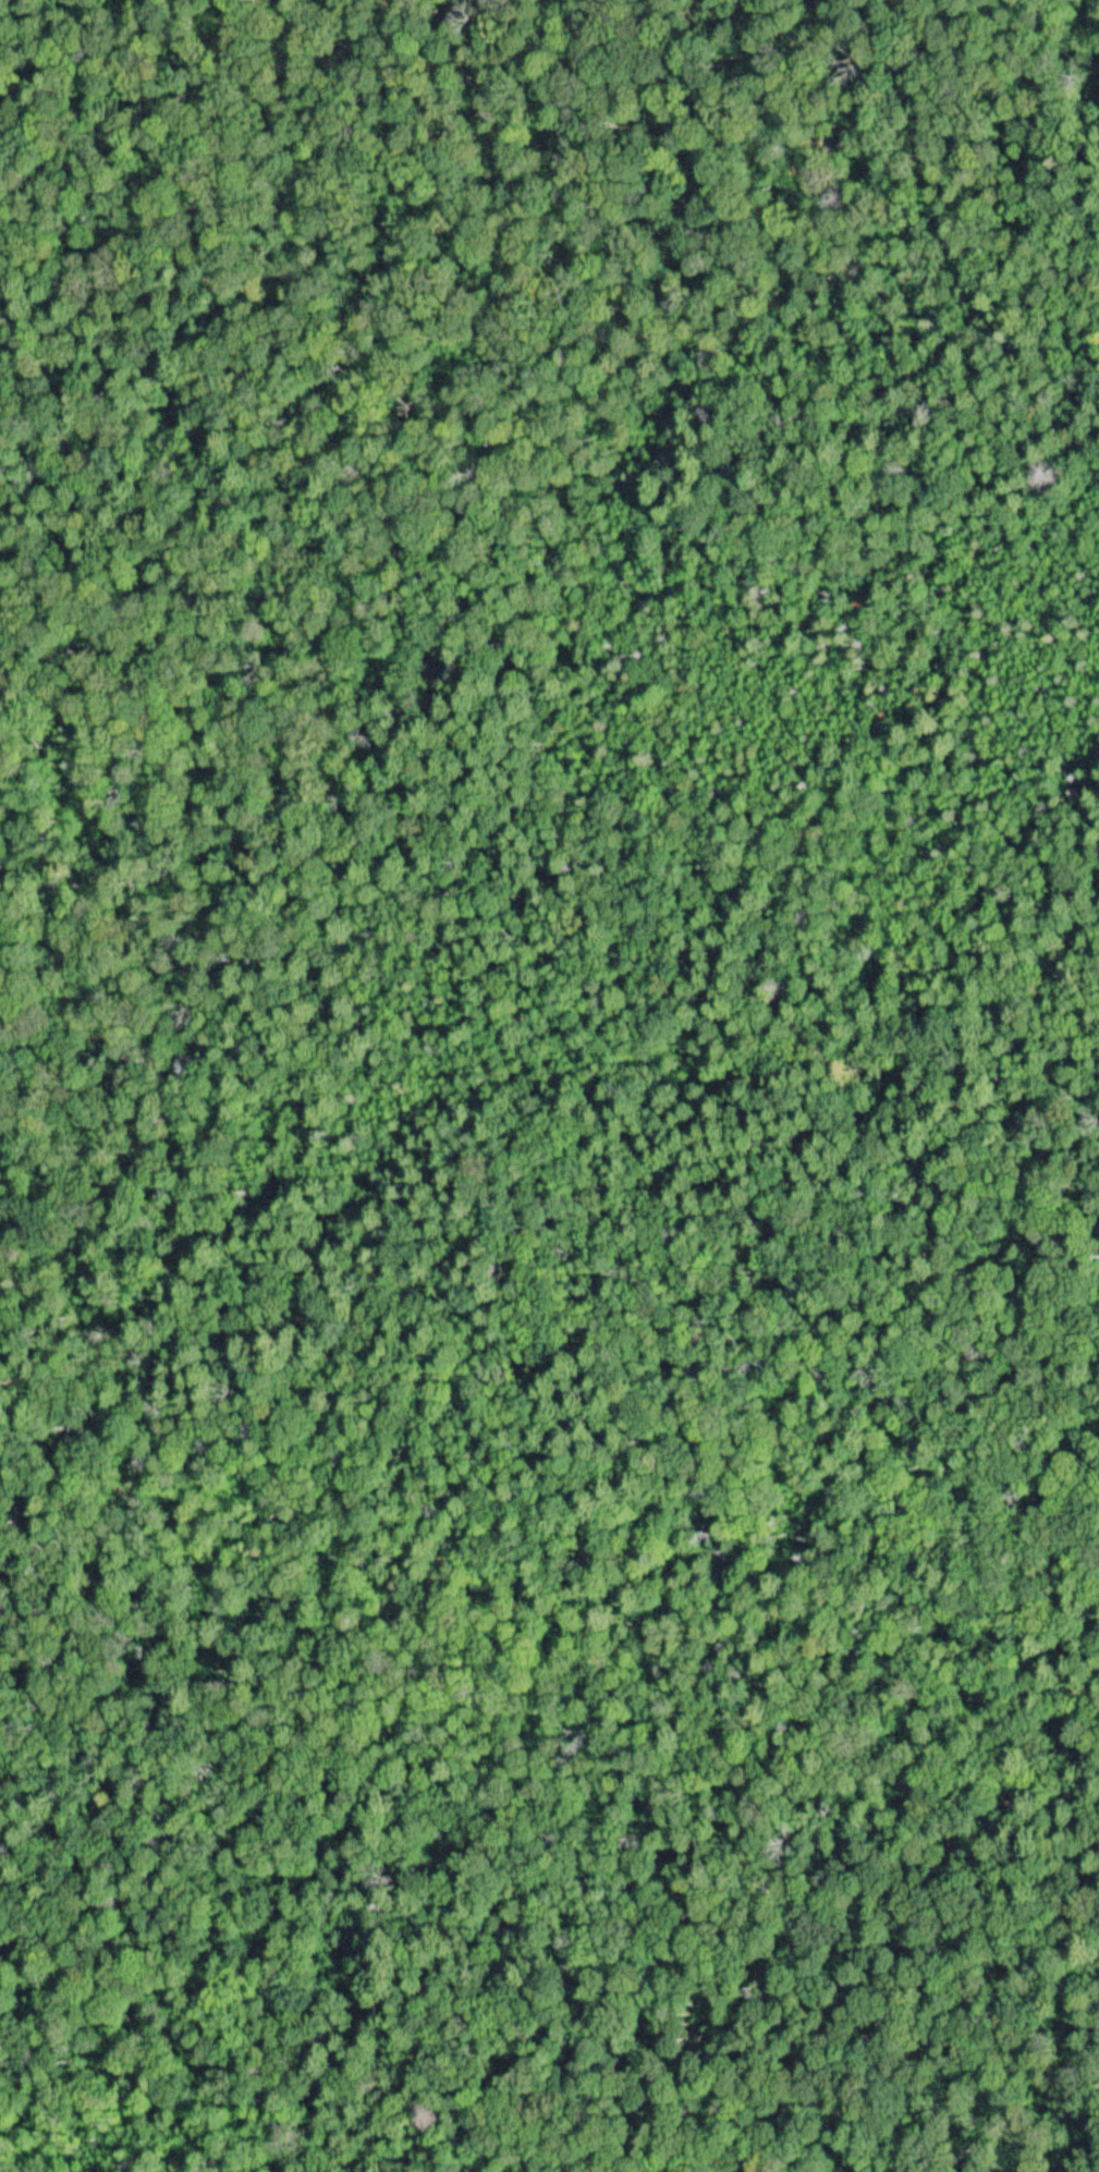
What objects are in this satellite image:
road: (937, 72)

